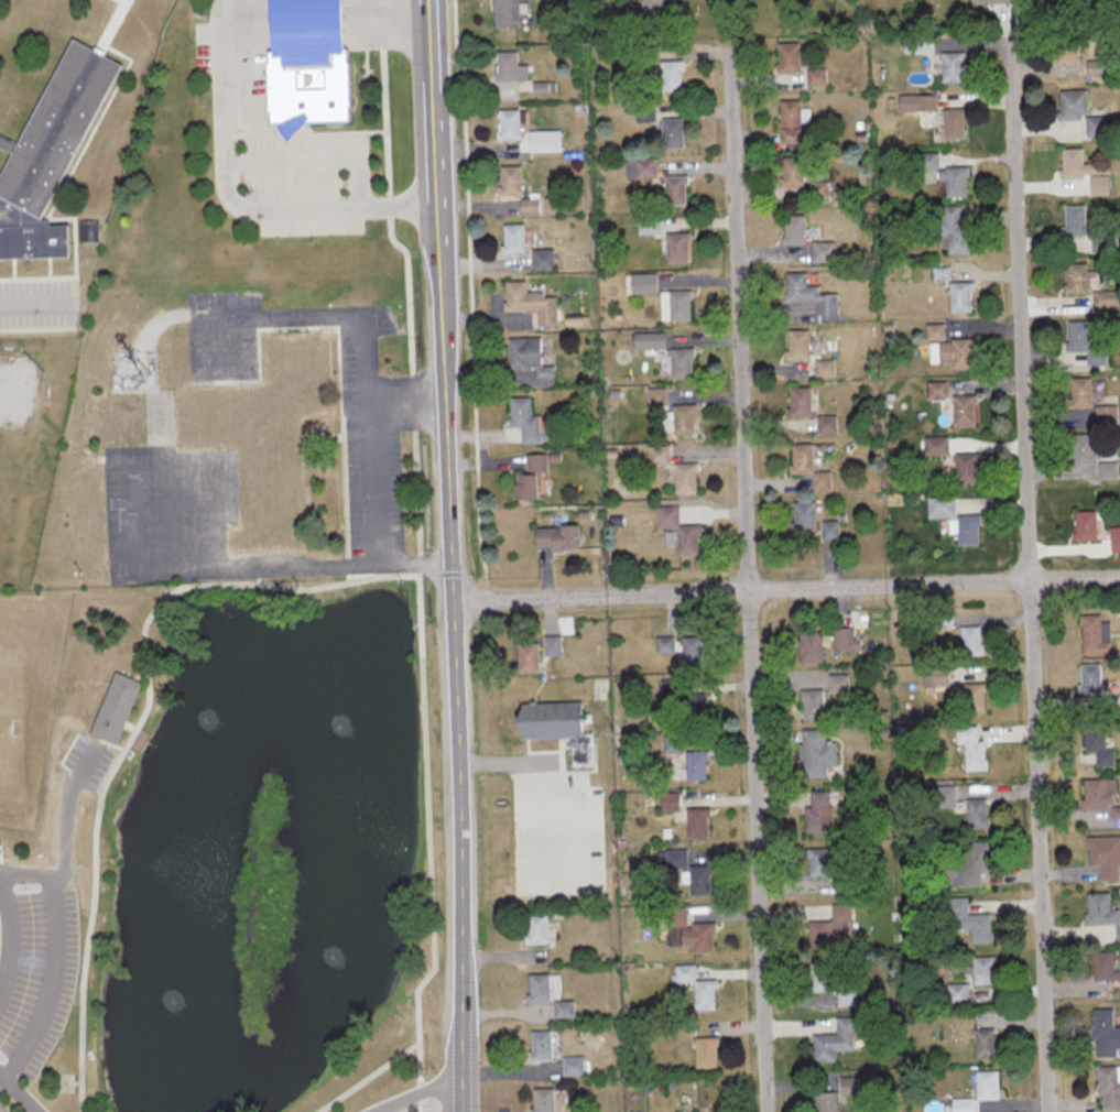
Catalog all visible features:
building: (990, 1)
road: (230, 7)
road: (390, 8)
road: (311, 13)
building: (508, 13)
road: (427, 21)
building: (921, 46)
building: (1065, 47)
building: (791, 57)
building: (312, 63)
building: (512, 66)
building: (950, 67)
building: (1099, 68)
building: (673, 75)
building: (817, 77)
building: (1078, 112)
building: (793, 122)
building: (511, 123)
building: (952, 124)
building: (675, 132)
road: (228, 134)
building: (536, 141)
building: (51, 156)
building: (642, 167)
building: (794, 171)
building: (1080, 171)
building: (513, 181)
parking lot: (315, 182)
building: (954, 182)
building: (677, 189)
building: (532, 205)
road: (314, 207)
building: (1072, 220)
building: (649, 225)
building: (795, 229)
building: (952, 229)
building: (515, 238)
building: (1102, 242)
building: (679, 247)
building: (825, 251)
building: (544, 259)
building: (1074, 279)
building: (643, 283)
road: (413, 284)
building: (809, 294)
building: (958, 296)
building: (1107, 298)
building: (532, 302)
road: (37, 303)
parking lot: (41, 304)
building: (677, 305)
road: (320, 314)
building: (651, 340)
building: (1081, 342)
building: (794, 345)
building: (948, 352)
building: (530, 356)
building: (684, 362)
building: (1077, 392)
building: (797, 401)
building: (961, 410)
building: (1106, 414)
building: (526, 419)
building: (685, 421)
building: (825, 424)
building: (267, 434)
building: (934, 446)
building: (1079, 449)
building: (661, 455)
park: (20, 461)
building: (805, 466)
building: (963, 468)
building: (1106, 470)
building: (688, 478)
building: (533, 479)
building: (801, 517)
building: (1081, 525)
building: (965, 531)
building: (827, 532)
building: (559, 538)
building: (1113, 538)
building: (688, 542)
road: (410, 562)
road: (371, 563)
road: (384, 575)
road: (1029, 575)
road: (449, 577)
road: (746, 580)
road: (785, 589)
building: (1092, 635)
building: (844, 640)
building: (968, 640)
building: (553, 645)
building: (663, 645)
building: (808, 647)
building: (688, 651)
building: (530, 657)
building: (1087, 678)
building: (836, 683)
building: (971, 698)
building: (814, 707)
building: (116, 709)
building: (693, 709)
park: (9, 719)
building: (557, 719)
road: (98, 744)
road: (131, 745)
building: (1097, 746)
building: (969, 748)
building: (815, 753)
building: (694, 765)
building: (944, 796)
building: (1097, 796)
building: (667, 802)
road: (67, 808)
building: (816, 814)
building: (976, 814)
building: (695, 822)
road: (435, 831)
building: (1103, 857)
building: (815, 862)
building: (970, 863)
building: (697, 880)
building: (1099, 909)
building: (967, 924)
building: (831, 926)
building: (539, 930)
building: (684, 931)
road: (13, 937)
road: (59, 963)
building: (1102, 968)
building: (980, 971)
parking lot: (35, 973)
building: (828, 983)
building: (695, 988)
building: (542, 990)
building: (955, 993)
building: (566, 1010)
building: (1103, 1034)
building: (833, 1040)
building: (982, 1043)
building: (543, 1046)
building: (704, 1053)
building: (575, 1066)
road: (373, 1077)
building: (985, 1084)
building: (847, 1086)
building: (1107, 1087)
road: (20, 1090)
road: (420, 1093)
building: (546, 1100)
building: (823, 1102)
building: (960, 1105)
road: (37, 1111)

